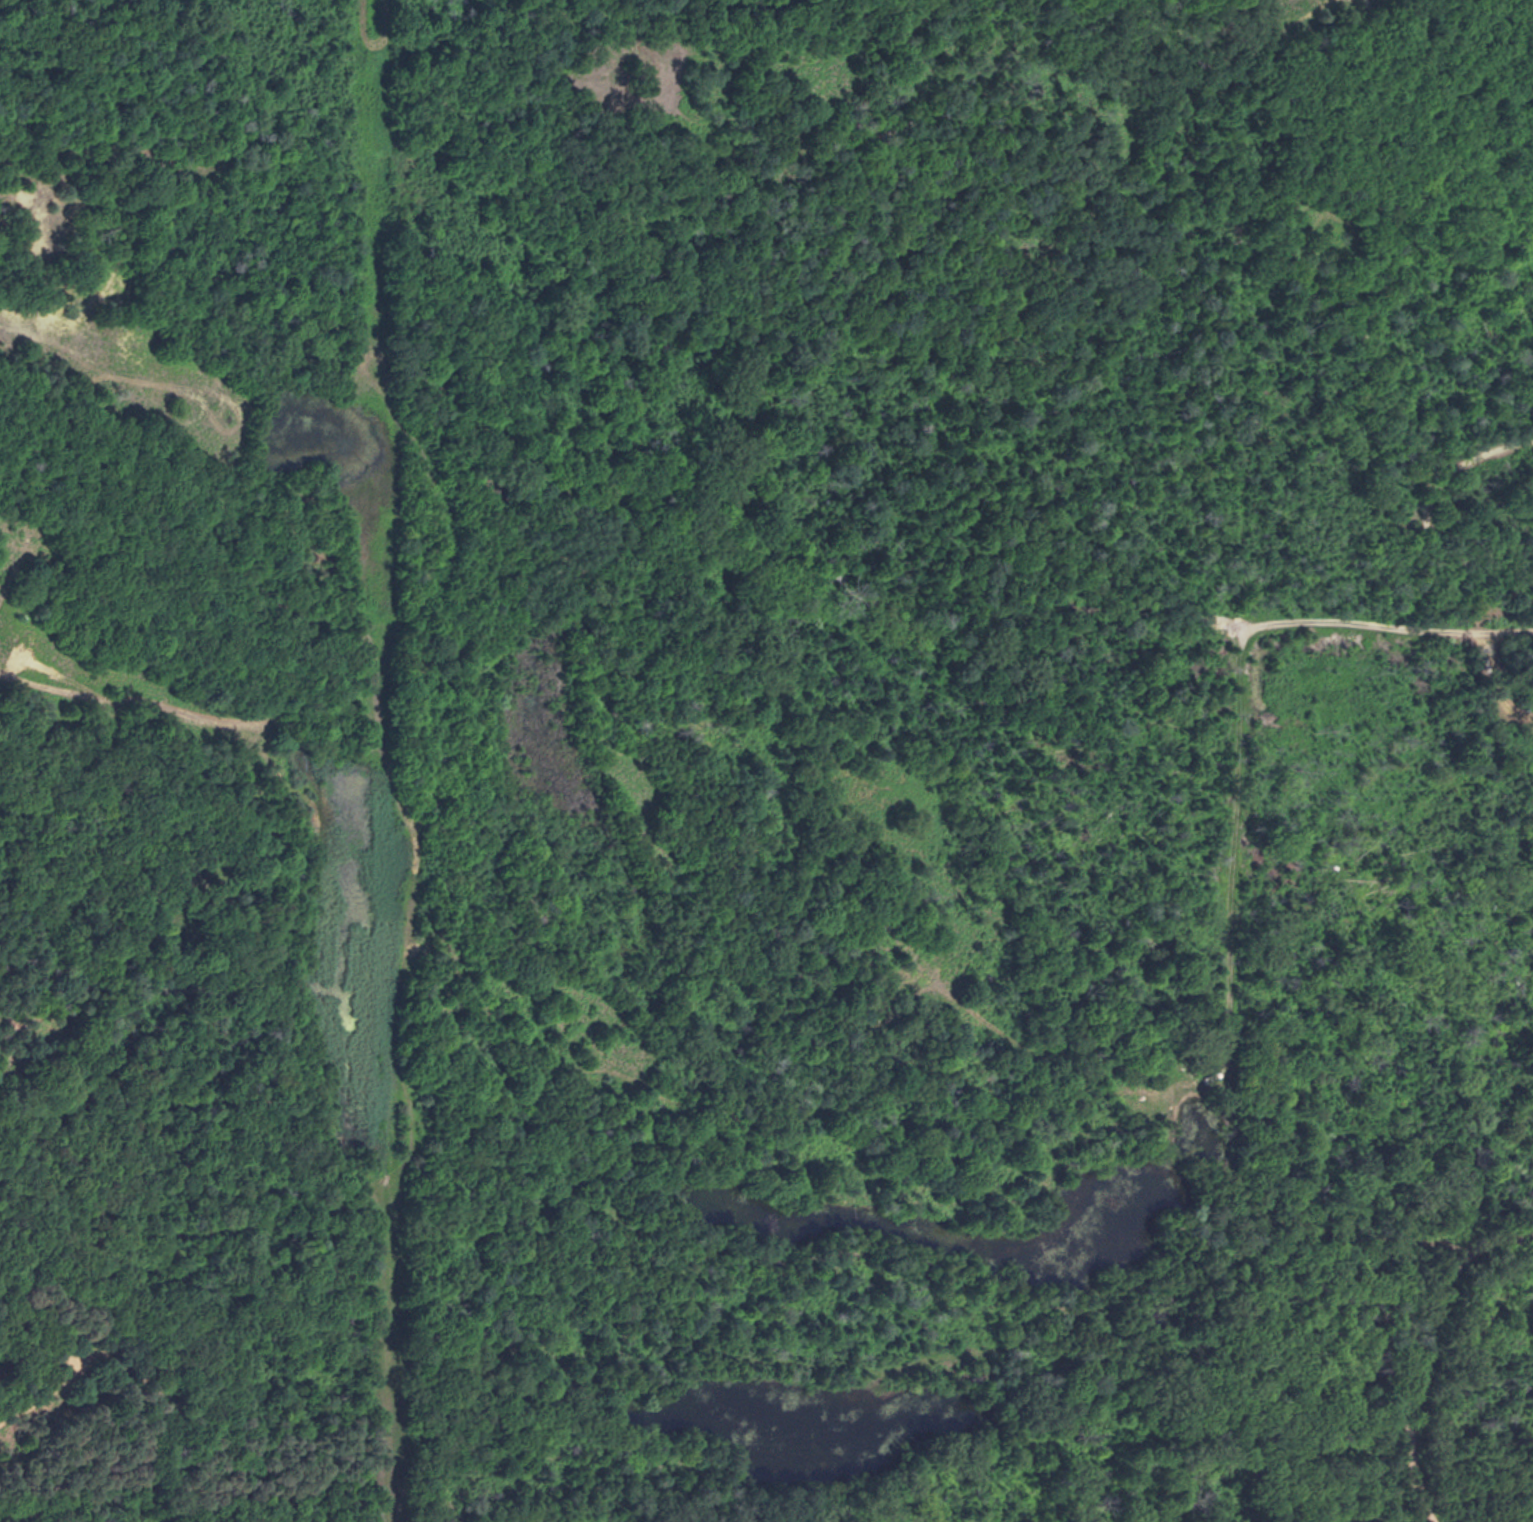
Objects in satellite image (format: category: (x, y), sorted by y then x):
road: (387, 944)

